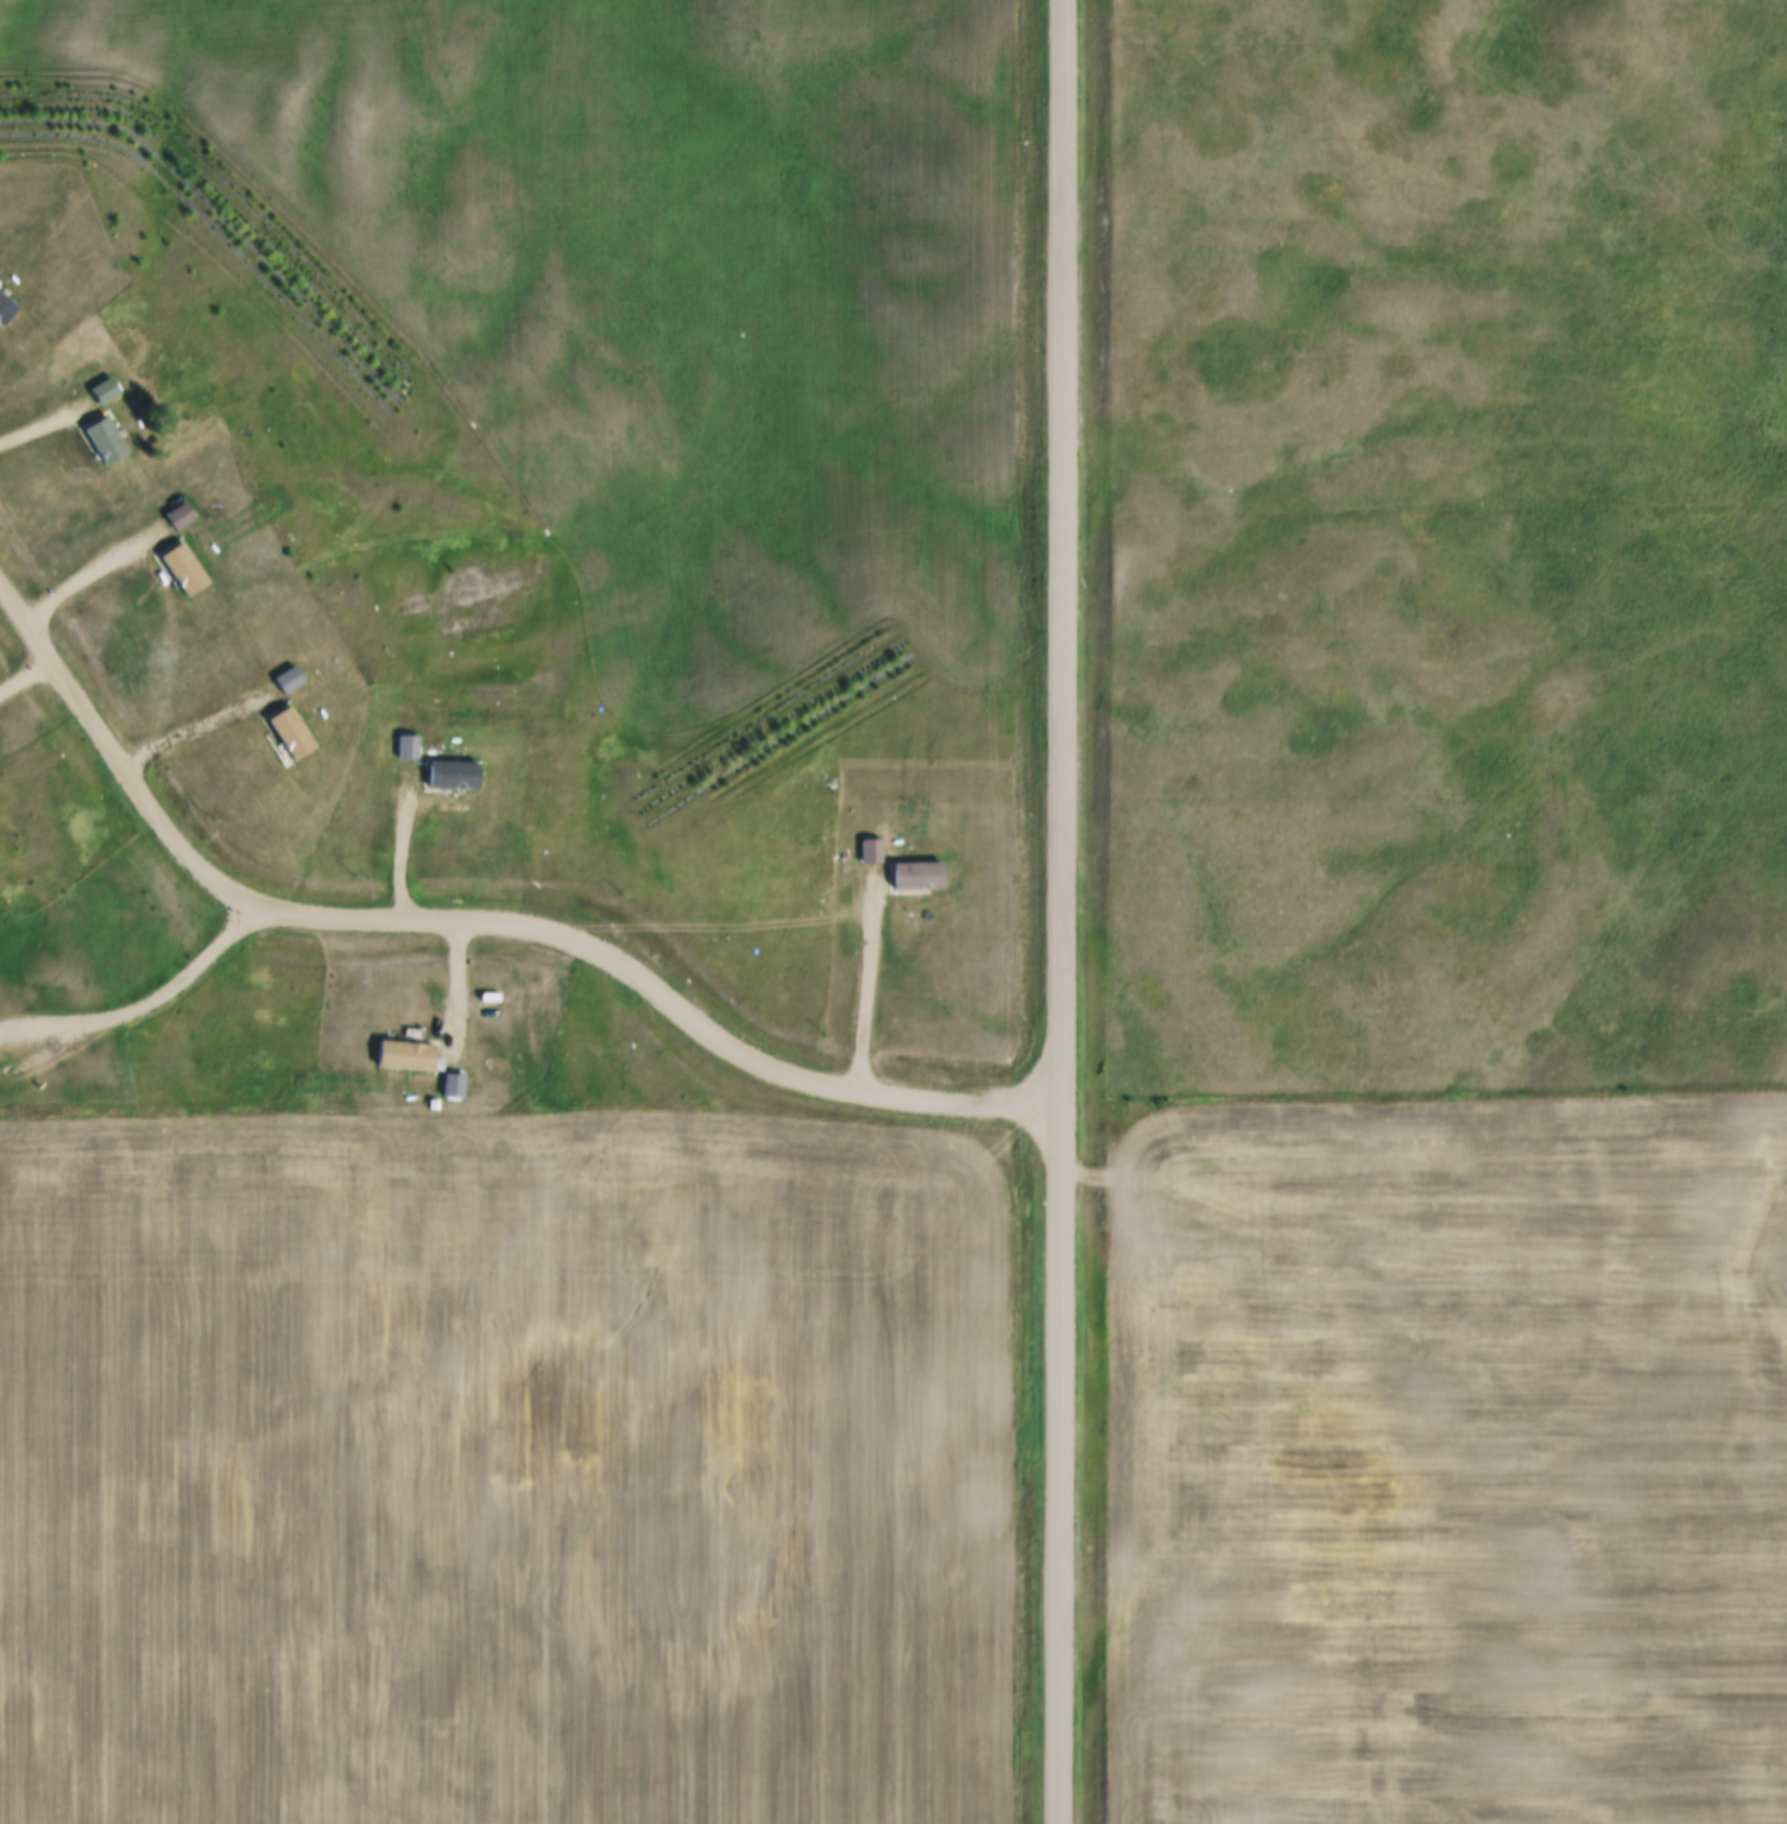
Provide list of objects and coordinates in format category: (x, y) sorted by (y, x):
building: (5, 308)
building: (106, 390)
road: (46, 421)
building: (107, 441)
building: (181, 516)
building: (185, 568)
road: (89, 572)
building: (290, 679)
road: (200, 724)
building: (292, 733)
building: (408, 747)
building: (453, 772)
road: (406, 840)
building: (871, 851)
building: (913, 876)
road: (1062, 911)
road: (475, 916)
road: (181, 977)
road: (44, 1021)
road: (49, 1050)
building: (404, 1055)
building: (452, 1087)
building: (434, 1105)

